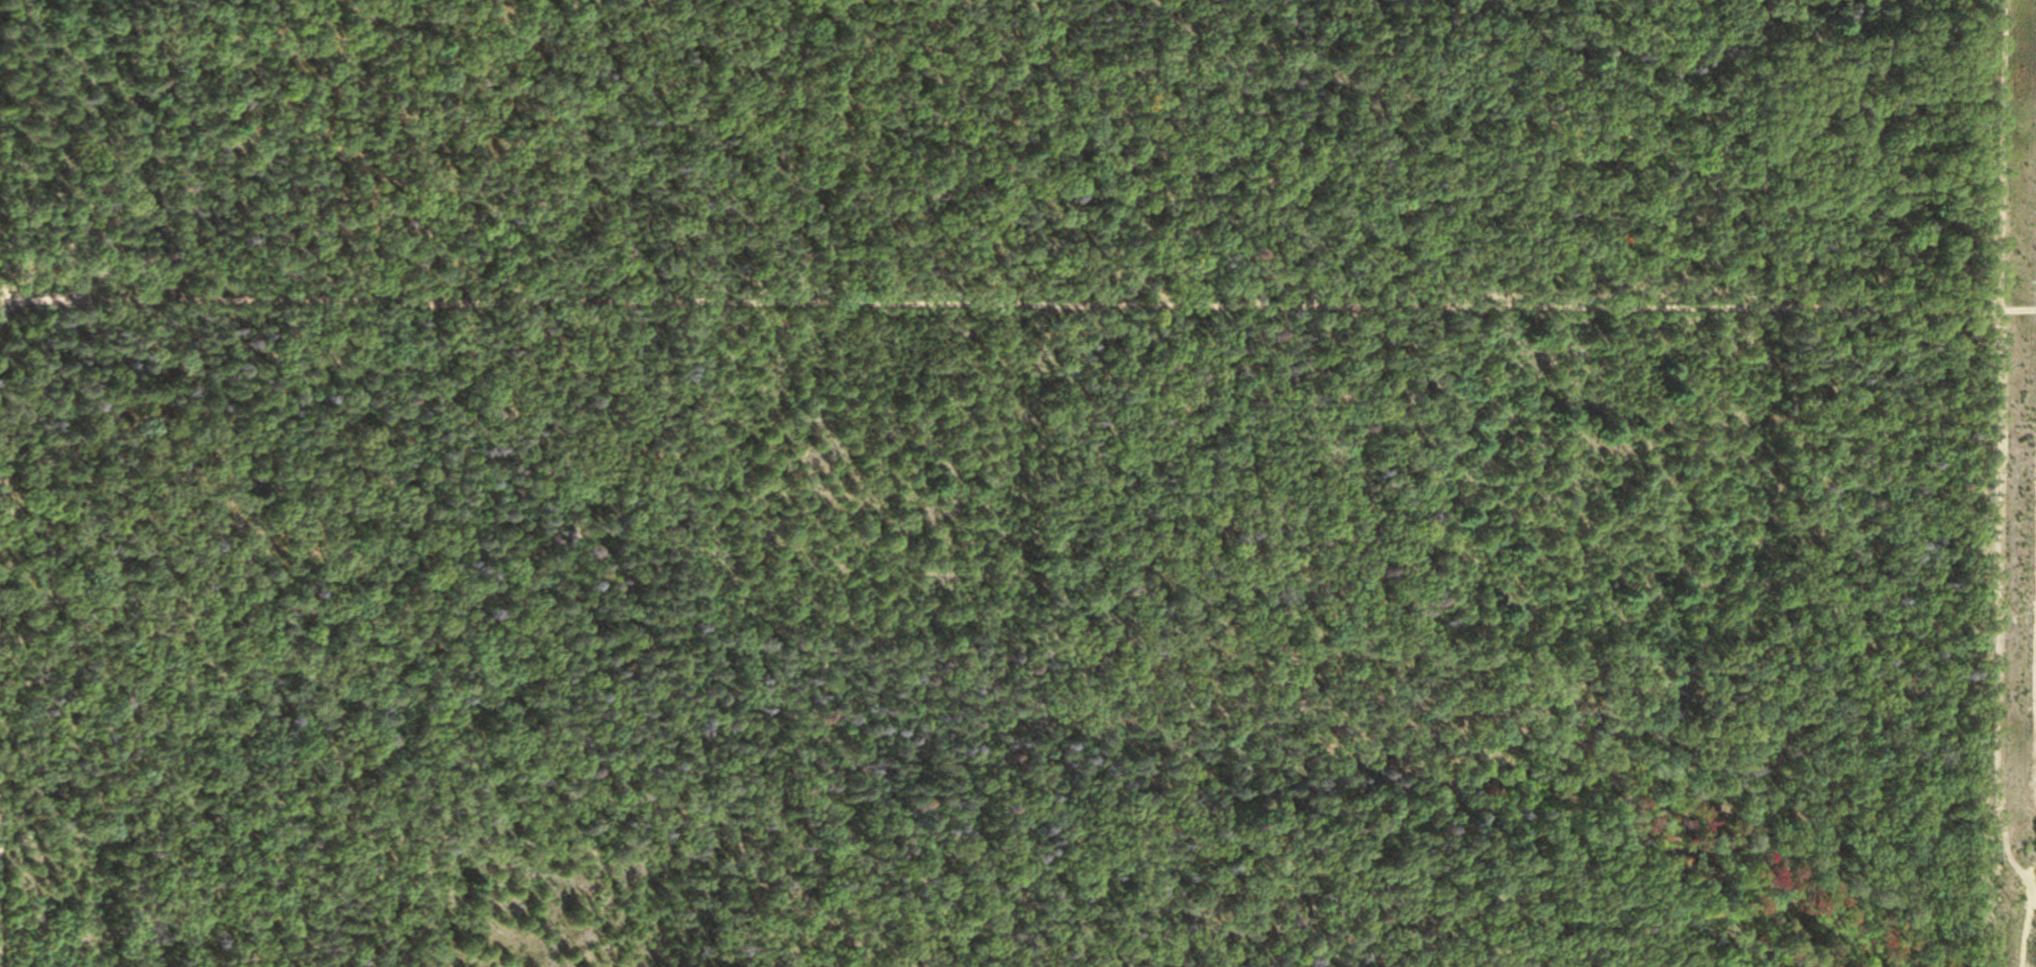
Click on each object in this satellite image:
road: (2001, 149)
road: (1018, 288)
road: (439, 399)
road: (740, 841)

